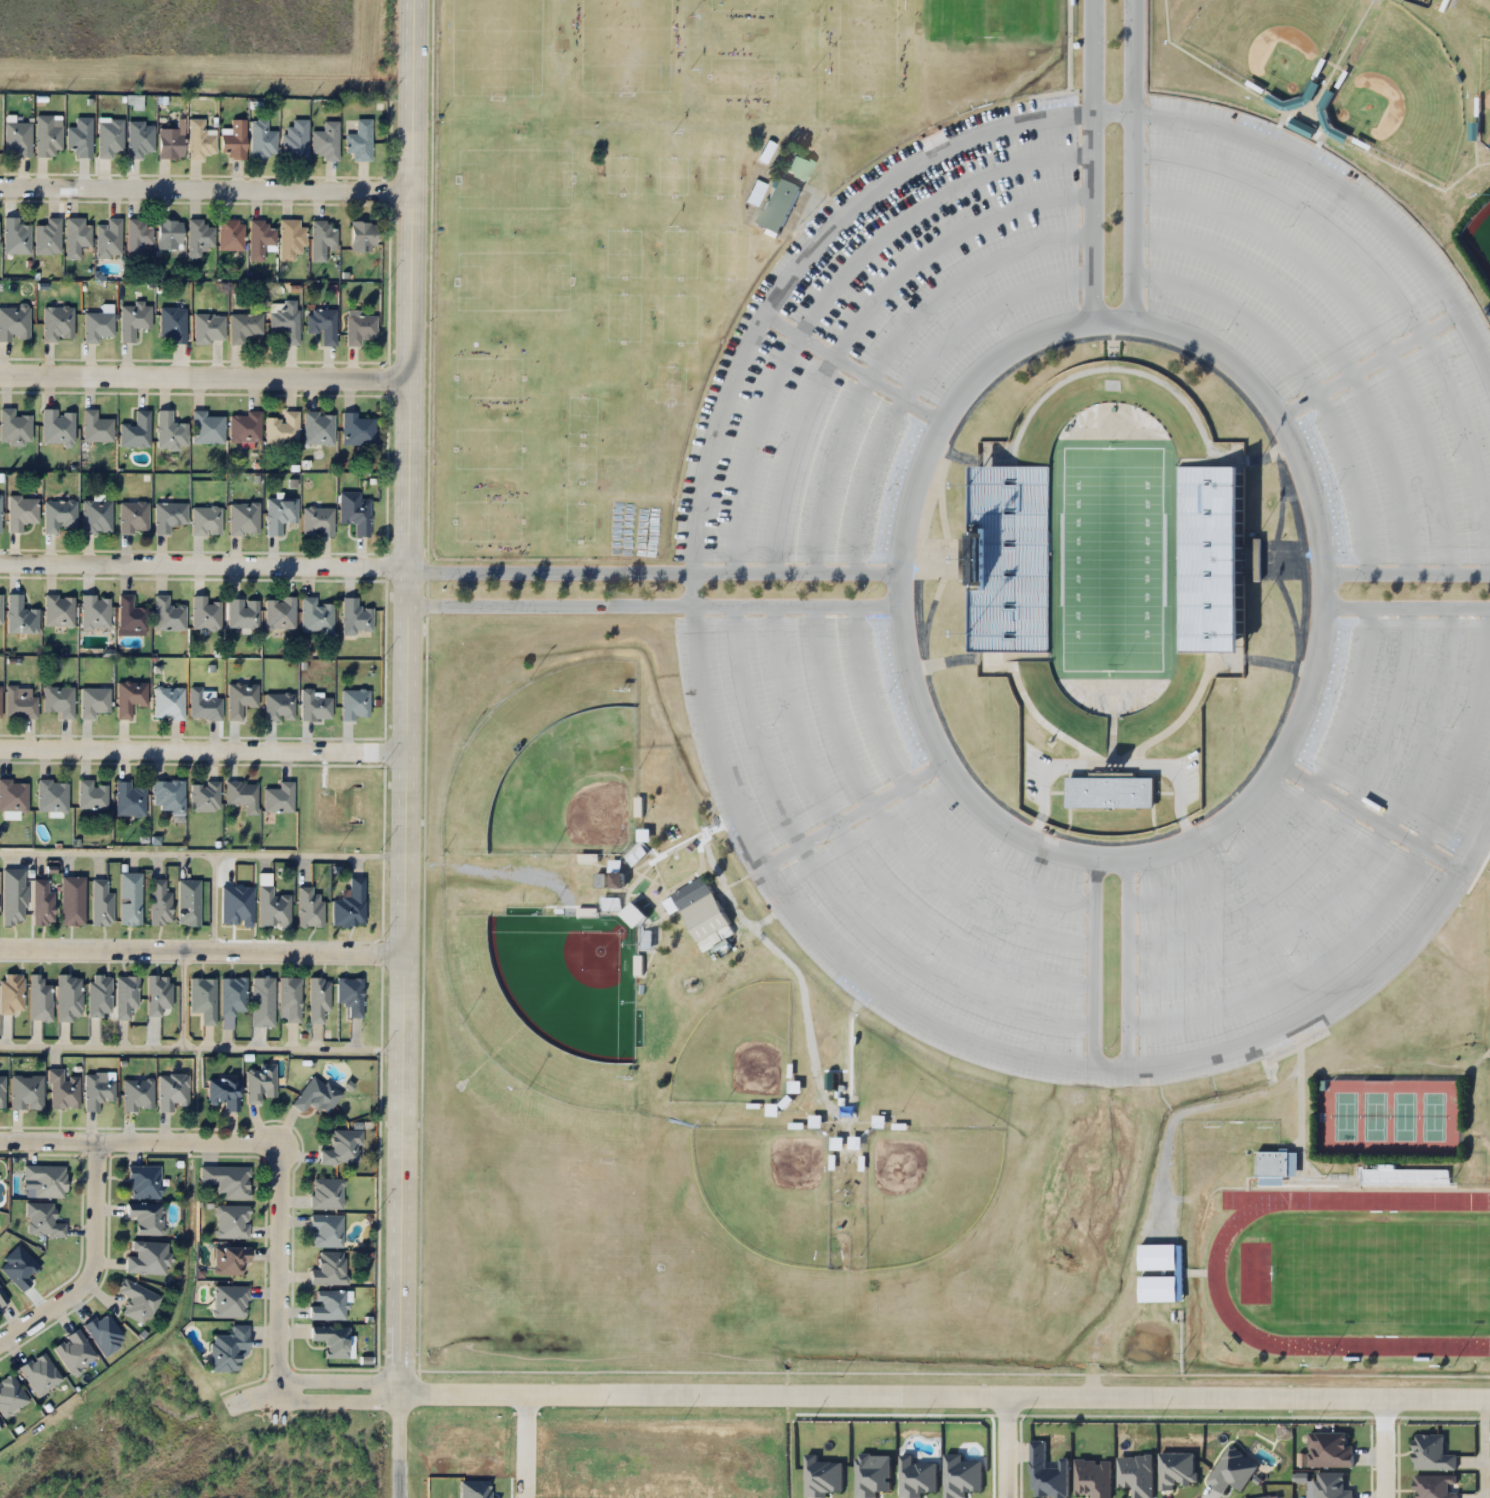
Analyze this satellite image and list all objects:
park: (993, 19)
park: (1267, 39)
park: (1484, 94)
park: (1402, 96)
road: (1112, 109)
building: (1301, 129)
building: (47, 134)
building: (1336, 134)
building: (80, 137)
building: (109, 137)
building: (139, 138)
building: (17, 139)
building: (233, 139)
building: (200, 140)
building: (261, 140)
building: (294, 140)
building: (170, 141)
building: (325, 141)
building: (359, 141)
road: (1090, 158)
road: (1134, 158)
building: (799, 168)
road: (1352, 189)
road: (205, 190)
building: (755, 192)
building: (778, 205)
building: (169, 234)
building: (230, 234)
building: (15, 236)
building: (137, 236)
building: (362, 236)
building: (47, 237)
building: (76, 237)
building: (199, 237)
building: (107, 238)
building: (259, 239)
building: (290, 239)
building: (322, 239)
park: (1479, 239)
road: (799, 255)
road: (1390, 283)
road: (830, 286)
road: (858, 315)
road: (1366, 316)
building: (133, 320)
building: (286, 321)
building: (14, 323)
building: (172, 323)
building: (57, 324)
building: (322, 324)
building: (97, 326)
building: (244, 326)
building: (208, 328)
building: (359, 328)
parking lot: (1323, 334)
parking lot: (885, 341)
road: (887, 343)
road: (1335, 344)
road: (1366, 361)
road: (850, 366)
road: (914, 371)
road: (1306, 374)
road: (205, 376)
building: (57, 427)
building: (95, 427)
building: (244, 427)
building: (13, 428)
building: (206, 428)
building: (318, 428)
building: (282, 429)
building: (356, 430)
building: (135, 431)
building: (170, 431)
building: (21, 512)
building: (0, 513)
building: (279, 514)
building: (59, 515)
building: (355, 515)
building: (168, 516)
building: (96, 517)
building: (132, 517)
building: (244, 518)
building: (205, 520)
building: (318, 522)
building: (1013, 559)
building: (1211, 560)
park: (1109, 562)
road: (204, 565)
road: (652, 566)
road: (1406, 571)
road: (691, 583)
road: (897, 585)
road: (1323, 586)
road: (652, 599)
road: (1406, 603)
building: (0, 609)
building: (58, 611)
building: (95, 612)
building: (205, 613)
building: (279, 613)
building: (243, 614)
building: (167, 615)
building: (20, 616)
building: (315, 616)
building: (130, 617)
building: (355, 617)
building: (129, 697)
building: (240, 698)
building: (58, 700)
building: (94, 701)
building: (168, 703)
building: (19, 704)
building: (203, 705)
building: (354, 705)
building: (314, 706)
building: (279, 707)
road: (405, 748)
road: (202, 750)
park: (549, 770)
building: (1111, 793)
building: (13, 794)
building: (52, 794)
building: (91, 794)
building: (242, 794)
building: (168, 795)
building: (204, 796)
road: (916, 797)
building: (129, 798)
building: (278, 798)
road: (1303, 798)
road: (853, 807)
road: (1366, 812)
road: (887, 826)
road: (1332, 828)
parking lot: (887, 841)
road: (202, 847)
parking lot: (1318, 852)
building: (636, 855)
road: (858, 855)
road: (1362, 858)
building: (618, 881)
road: (830, 882)
road: (1390, 887)
building: (13, 896)
road: (214, 898)
building: (129, 899)
building: (42, 902)
building: (188, 902)
building: (100, 903)
building: (159, 903)
building: (349, 905)
building: (272, 908)
building: (308, 908)
building: (698, 909)
road: (800, 913)
road: (201, 947)
road: (1349, 986)
building: (11, 994)
building: (157, 994)
road: (183, 994)
building: (98, 995)
building: (125, 995)
building: (349, 995)
building: (232, 996)
building: (38, 998)
building: (68, 998)
building: (202, 998)
building: (289, 998)
building: (318, 1000)
park: (546, 1001)
road: (200, 1042)
park: (738, 1049)
road: (1109, 1065)
building: (259, 1083)
building: (794, 1088)
building: (62, 1090)
building: (1, 1091)
building: (171, 1091)
building: (26, 1092)
building: (97, 1092)
building: (223, 1092)
building: (137, 1095)
building: (316, 1095)
park: (1389, 1117)
road: (262, 1142)
building: (342, 1147)
building: (1276, 1166)
building: (1403, 1177)
building: (46, 1180)
building: (226, 1180)
building: (144, 1182)
park: (766, 1191)
park: (925, 1192)
building: (326, 1193)
building: (146, 1217)
building: (42, 1221)
building: (231, 1222)
building: (326, 1230)
building: (147, 1258)
building: (229, 1260)
road: (93, 1269)
building: (329, 1269)
track: (1353, 1271)
building: (1159, 1273)
park: (1382, 1275)
building: (3, 1298)
building: (138, 1301)
building: (230, 1301)
building: (329, 1305)
building: (332, 1340)
building: (228, 1348)
building: (74, 1352)
building: (39, 1373)
road: (336, 1375)
road: (336, 1395)
road: (943, 1395)
building: (10, 1396)
road: (253, 1396)
building: (0, 1426)
road: (524, 1445)
road: (1004, 1447)
road: (1381, 1448)
road: (1484, 1448)
building: (1331, 1450)
building: (1432, 1453)
building: (1177, 1469)
building: (1232, 1471)
building: (1047, 1474)
building: (1136, 1474)
building: (1093, 1478)
building: (1331, 1486)
building: (1435, 1486)
building: (1266, 1497)

